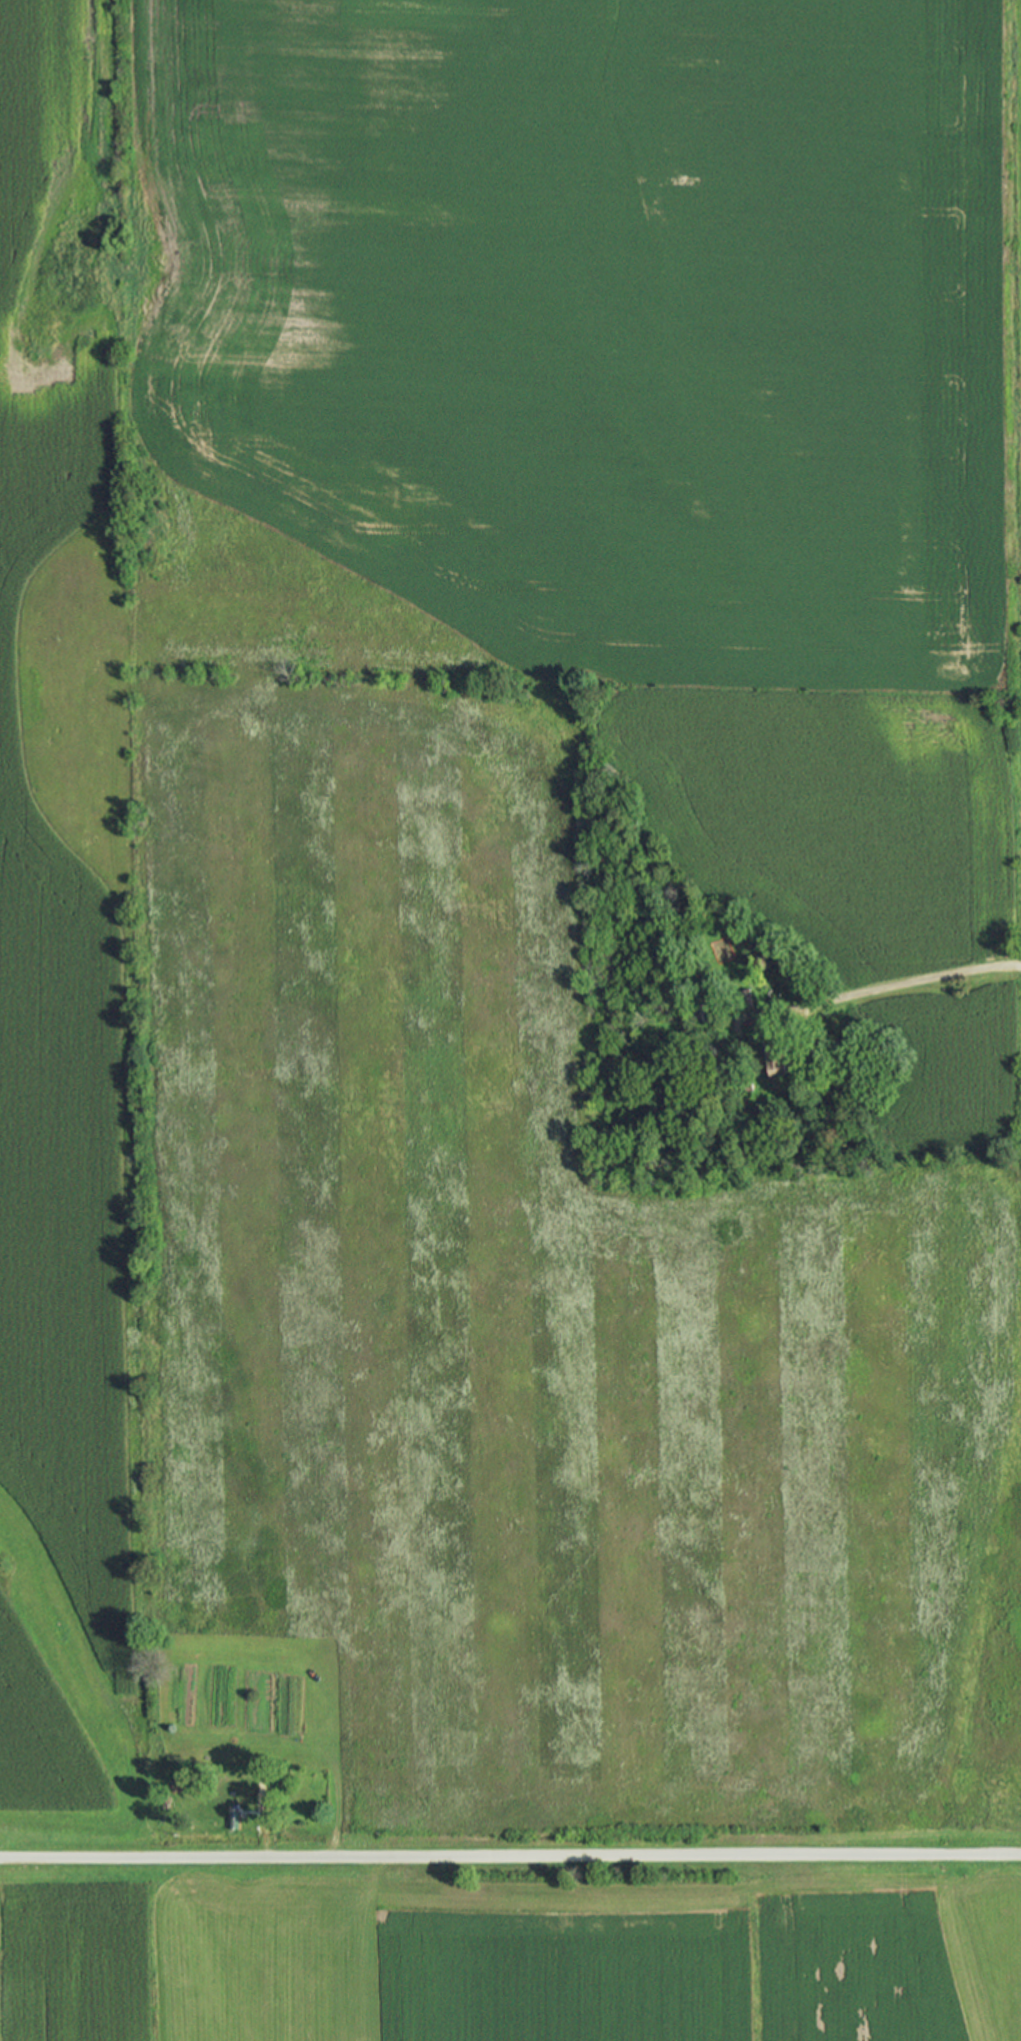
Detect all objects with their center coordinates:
road: (896, 986)
building: (772, 1063)
road: (510, 1845)

